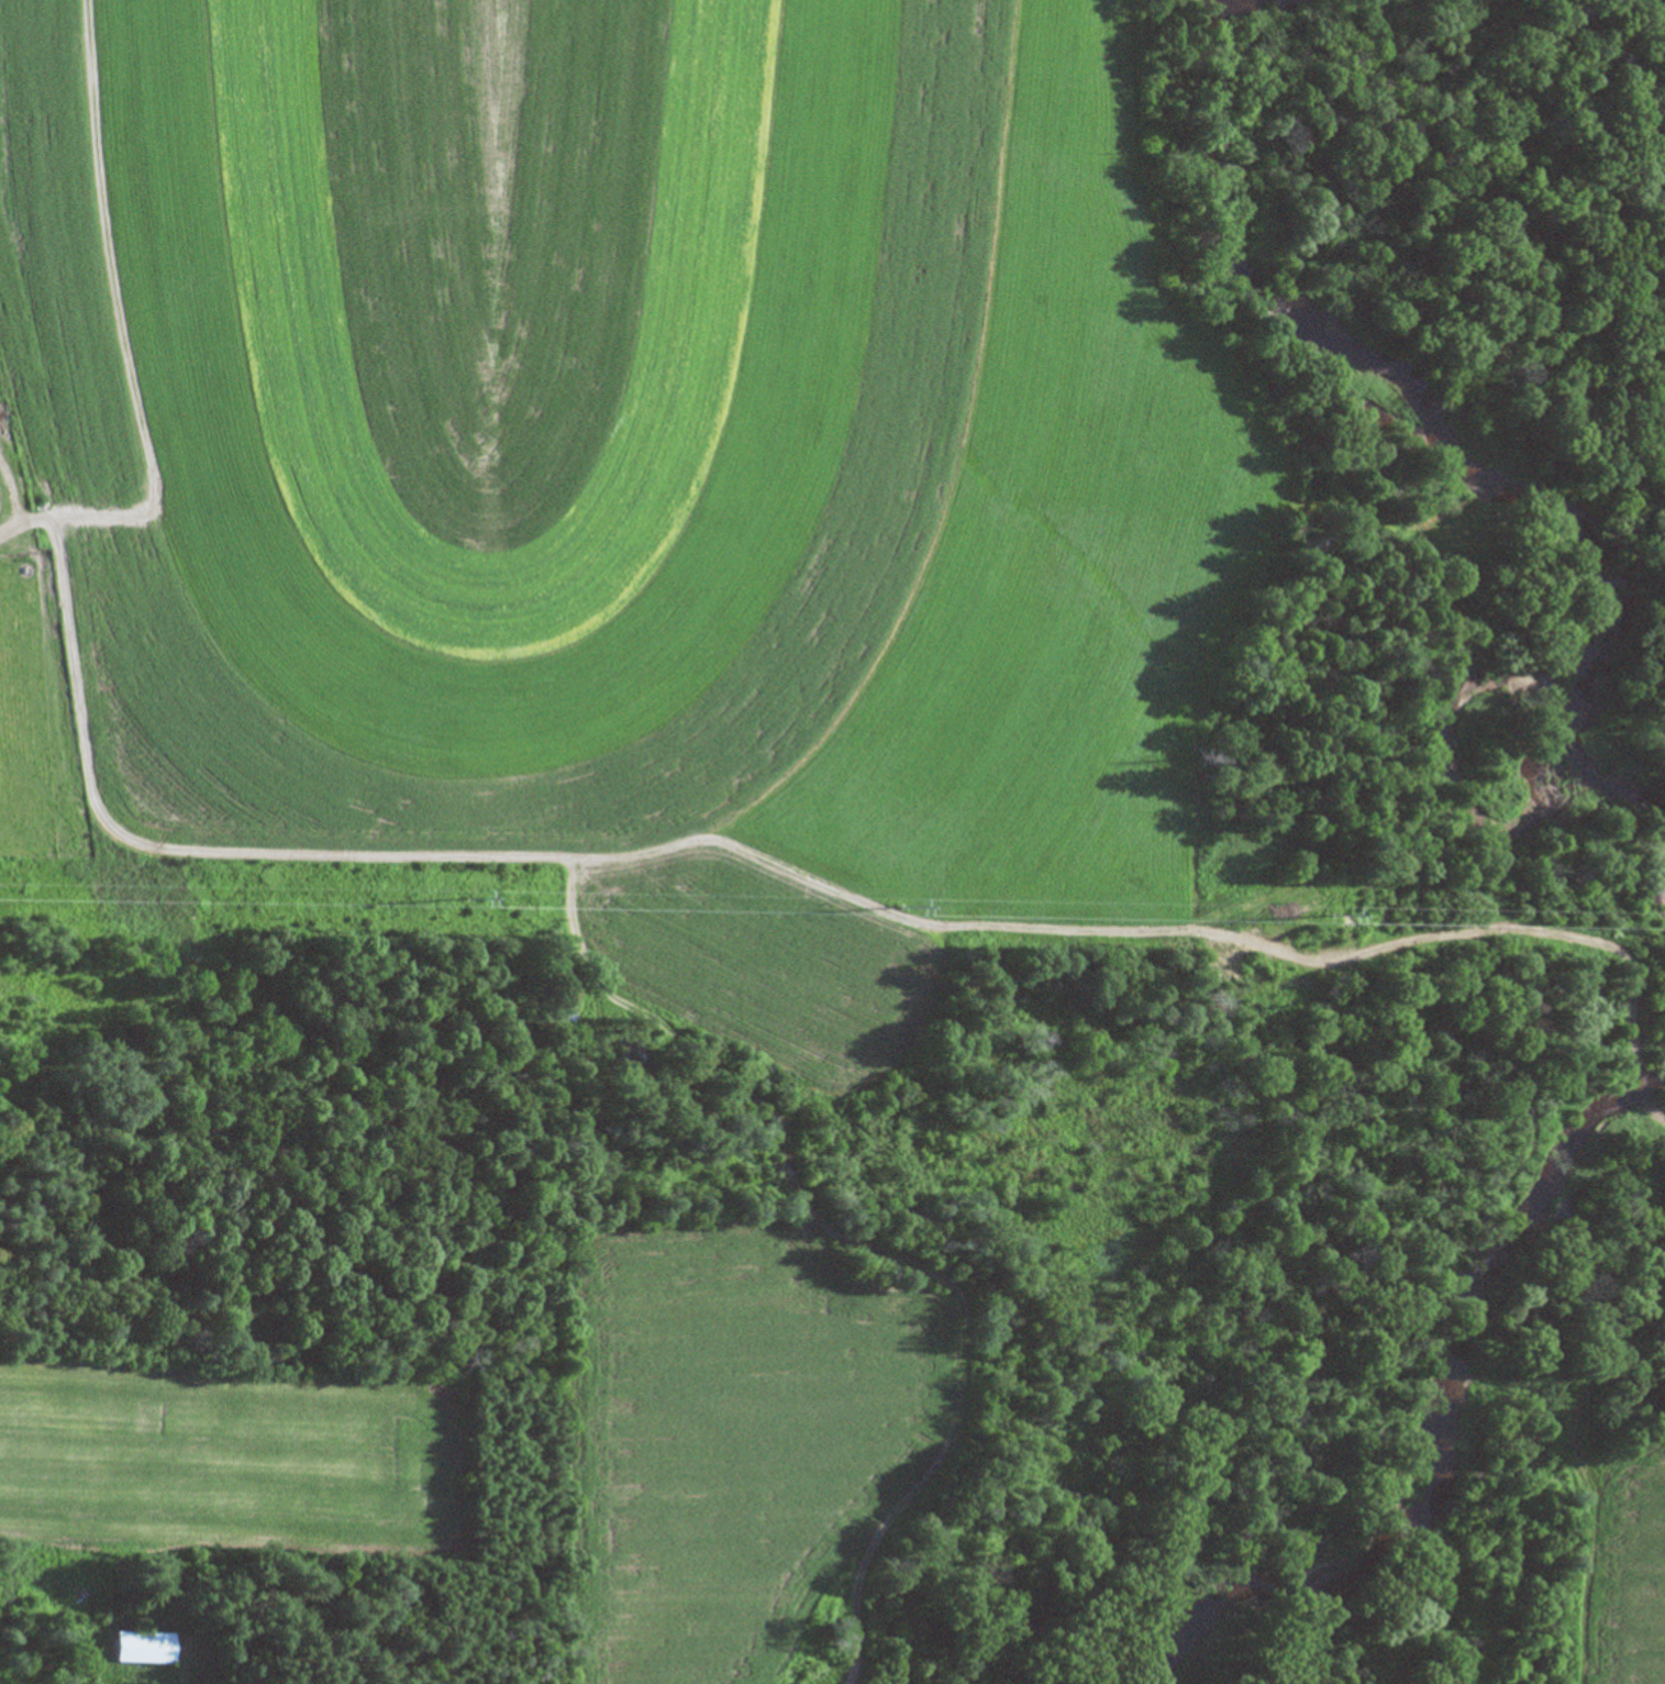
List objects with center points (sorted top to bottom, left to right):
river: (1497, 476)
building: (1381, 741)
river: (1484, 1434)
building: (141, 1649)
road: (180, 1665)

